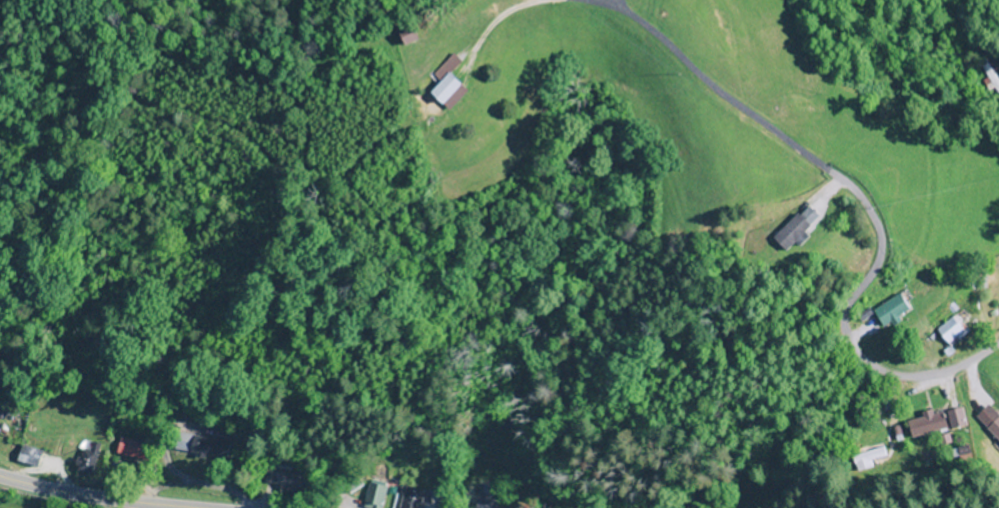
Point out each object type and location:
building: (989, 76)
building: (444, 91)
building: (788, 233)
building: (889, 310)
road: (857, 327)
building: (950, 331)
building: (43, 388)
building: (953, 418)
building: (988, 423)
building: (922, 425)
building: (198, 446)
building: (130, 450)
building: (27, 456)
building: (86, 458)
building: (862, 459)
building: (284, 479)
building: (373, 496)
road: (79, 497)
building: (410, 498)

